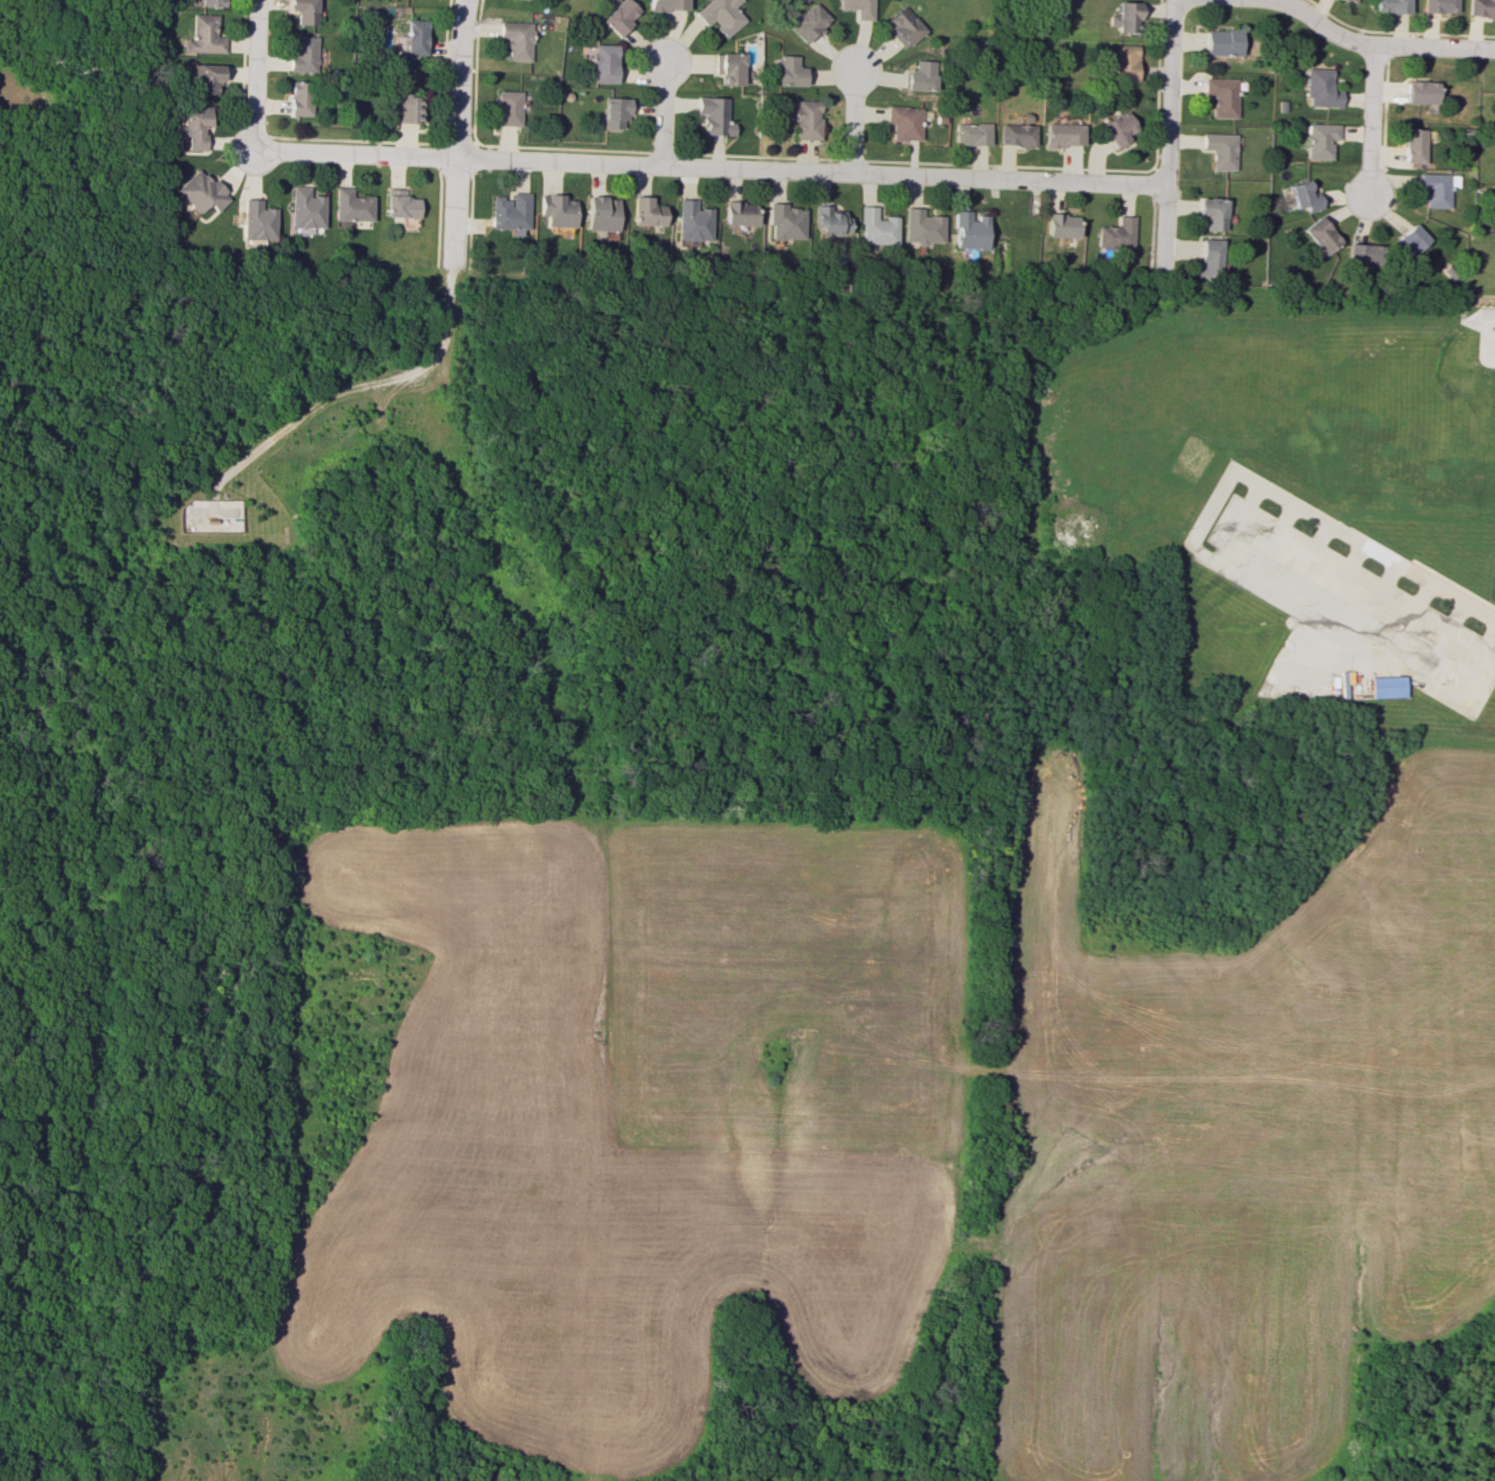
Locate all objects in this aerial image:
building: (1349, 0)
building: (212, 3)
building: (667, 5)
building: (1390, 6)
building: (1437, 6)
building: (858, 8)
building: (1480, 8)
building: (303, 11)
building: (619, 15)
building: (719, 15)
building: (1124, 17)
building: (807, 22)
building: (902, 27)
road: (49, 29)
building: (203, 35)
building: (415, 37)
building: (516, 40)
building: (1219, 42)
road: (11, 48)
road: (1373, 48)
building: (302, 54)
road: (114, 57)
building: (1123, 62)
building: (603, 63)
building: (727, 67)
building: (788, 71)
building: (919, 75)
road: (253, 76)
building: (204, 78)
road: (458, 78)
building: (1319, 88)
building: (1420, 91)
building: (1219, 96)
building: (298, 98)
building: (406, 108)
building: (507, 108)
building: (614, 111)
road: (660, 114)
building: (712, 116)
building: (804, 118)
building: (902, 122)
road: (851, 123)
road: (1369, 124)
building: (192, 125)
building: (1116, 128)
building: (970, 133)
building: (1015, 134)
building: (1061, 134)
road: (1165, 134)
building: (1318, 140)
building: (1413, 145)
building: (1218, 149)
road: (706, 168)
building: (1435, 189)
building: (199, 191)
building: (1302, 195)
building: (399, 204)
building: (351, 205)
building: (305, 208)
building: (556, 210)
building: (644, 211)
road: (454, 212)
building: (1211, 212)
building: (509, 213)
building: (600, 213)
building: (738, 213)
building: (691, 221)
building: (829, 221)
building: (783, 222)
building: (256, 223)
building: (1058, 225)
building: (920, 226)
building: (874, 227)
building: (967, 231)
building: (1115, 234)
building: (1320, 235)
building: (1408, 241)
building: (1362, 253)
building: (1208, 257)
road: (1484, 335)
parking lot: (1492, 350)
road: (345, 389)
road: (1262, 486)
road: (1238, 523)
road: (1272, 542)
road: (1306, 563)
road: (1374, 602)
road: (1326, 606)
parking lot: (1347, 613)
road: (1410, 621)
road: (1443, 638)
road: (1476, 664)
building: (1388, 688)
park: (62, 729)
park: (547, 876)
crop: (1242, 1140)

